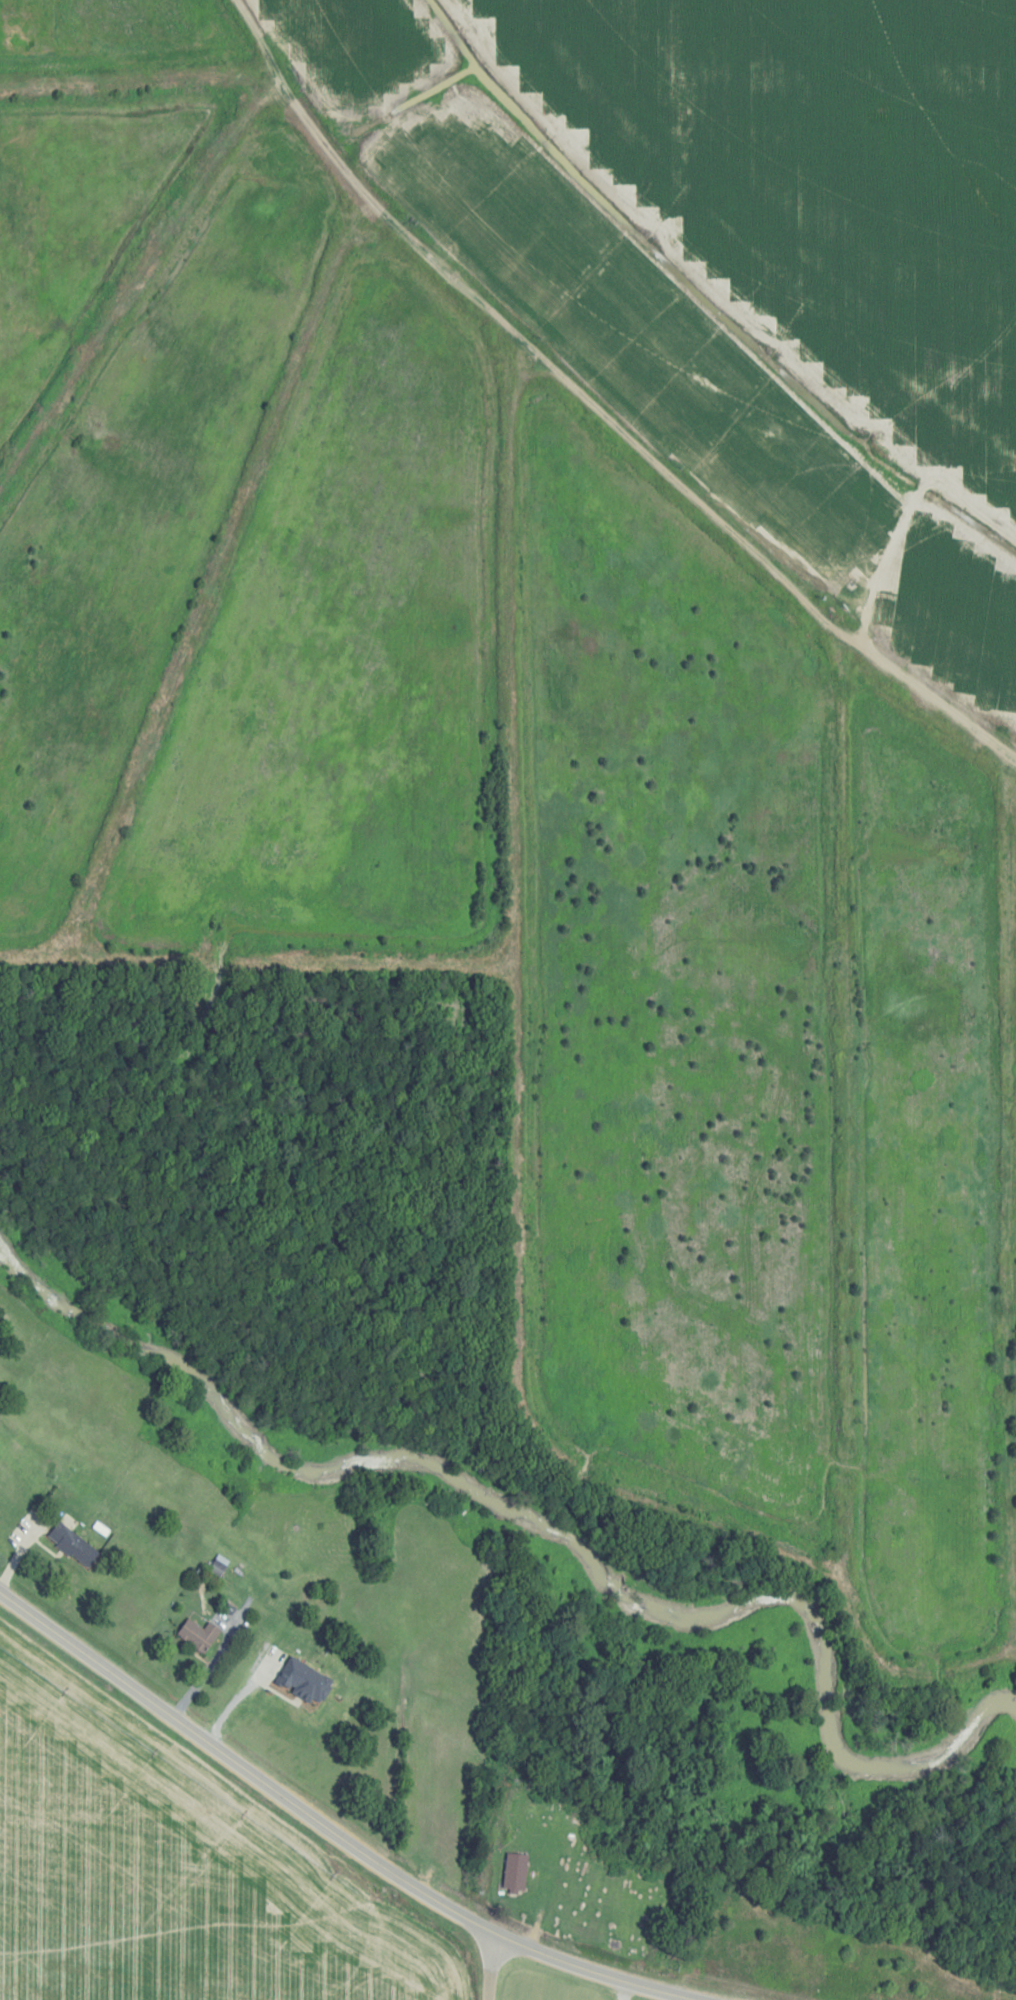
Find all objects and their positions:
road: (138, 81)
road: (593, 407)
road: (505, 1238)
building: (72, 1544)
building: (197, 1634)
road: (206, 1665)
road: (328, 1828)
building: (515, 1873)
road: (487, 1964)

